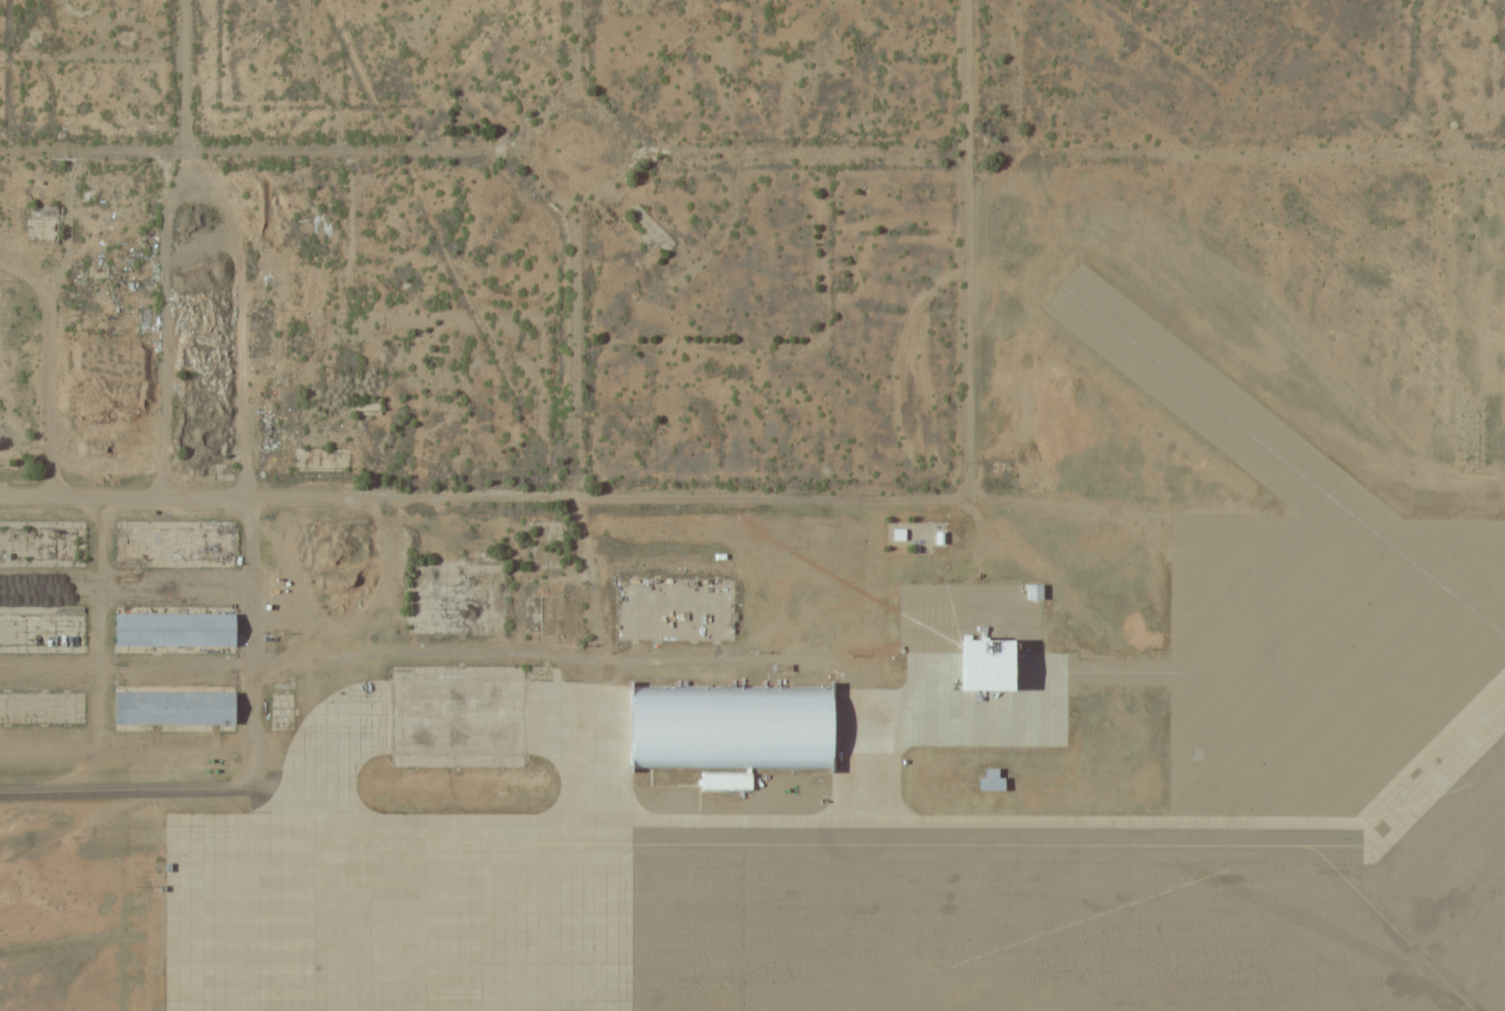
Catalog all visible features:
road: (573, 46)
road: (183, 74)
road: (259, 148)
road: (801, 149)
road: (634, 156)
building: (40, 222)
road: (966, 249)
road: (576, 353)
building: (365, 404)
road: (477, 493)
road: (875, 589)
building: (1032, 591)
building: (549, 602)
building: (172, 629)
road: (249, 641)
road: (561, 656)
building: (981, 663)
building: (172, 706)
building: (731, 727)
building: (990, 779)
building: (725, 781)
road: (136, 787)
airport apron: (840, 885)

